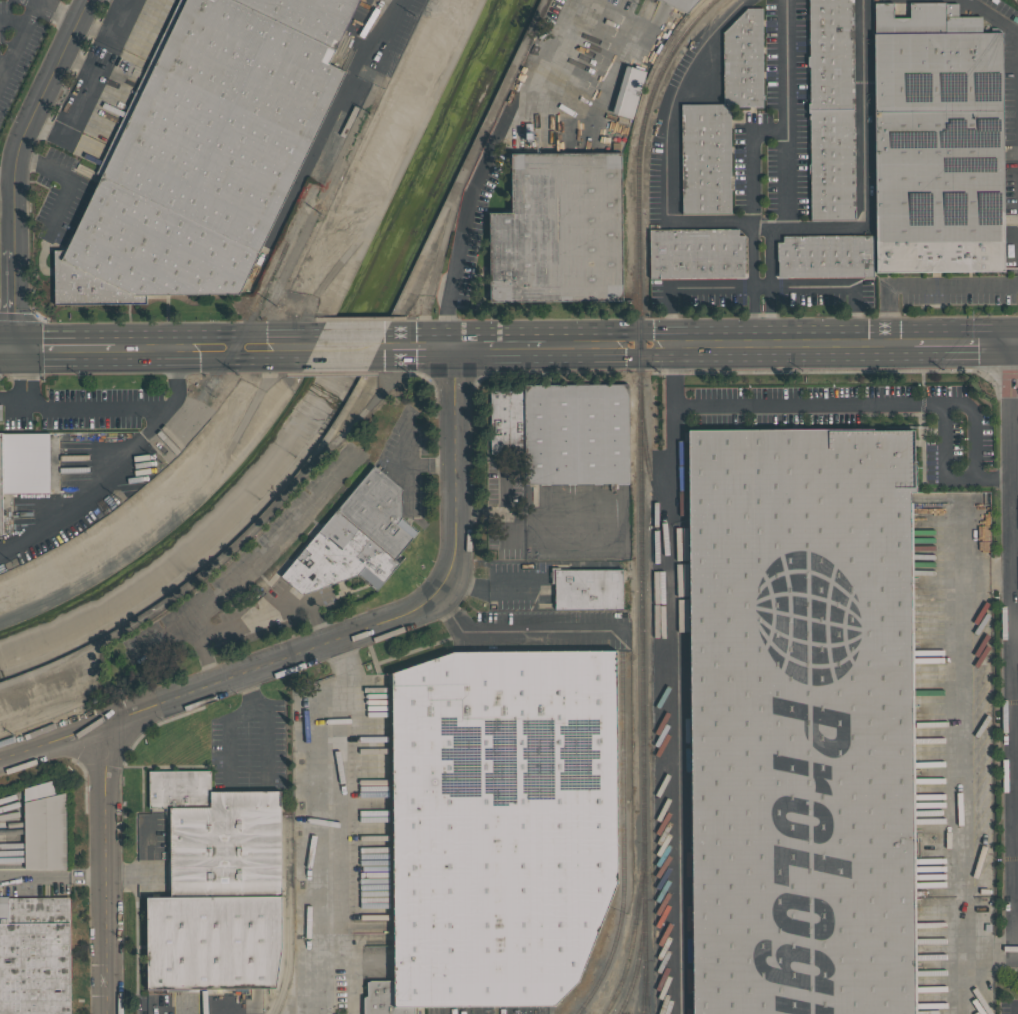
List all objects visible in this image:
road: (31, 2)
road: (36, 2)
building: (681, 4)
road: (55, 14)
road: (994, 16)
road: (13, 23)
road: (609, 26)
road: (114, 37)
road: (17, 41)
parking lot: (16, 44)
road: (561, 46)
road: (3, 64)
building: (629, 92)
road: (82, 102)
building: (832, 110)
building: (721, 119)
road: (788, 125)
railway: (322, 143)
road: (666, 143)
building: (205, 151)
building: (938, 151)
road: (864, 164)
road: (10, 166)
road: (5, 177)
road: (788, 177)
road: (67, 180)
road: (470, 206)
building: (559, 230)
building: (697, 254)
building: (826, 256)
road: (761, 285)
road: (760, 287)
road: (927, 288)
road: (962, 341)
traffic signals: (1011, 341)
road: (1014, 341)
road: (793, 344)
road: (499, 345)
road: (608, 345)
road: (349, 346)
road: (418, 346)
road: (68, 348)
road: (215, 348)
road: (10, 349)
traffic signals: (21, 349)
road: (26, 373)
road: (14, 398)
road: (849, 403)
road: (128, 409)
railway: (642, 410)
building: (0, 412)
building: (508, 422)
building: (576, 434)
road: (411, 464)
road: (1015, 476)
road: (408, 486)
building: (0, 500)
building: (379, 512)
railway: (29, 533)
building: (338, 558)
road: (254, 567)
road: (1003, 573)
building: (589, 588)
road: (272, 611)
road: (1014, 620)
road: (387, 621)
road: (515, 632)
road: (162, 635)
road: (1016, 643)
road: (343, 655)
railway: (686, 697)
building: (802, 720)
road: (963, 720)
road: (266, 726)
road: (229, 740)
road: (49, 743)
building: (180, 789)
building: (503, 823)
building: (45, 827)
road: (346, 832)
railway: (625, 838)
road: (102, 872)
road: (51, 877)
building: (219, 899)
building: (34, 910)
railway: (285, 918)
railway: (644, 929)
railway: (636, 931)
road: (961, 947)
railway: (639, 958)
building: (34, 968)
road: (960, 980)
railway: (647, 988)
building: (384, 999)
road: (1017, 1010)

